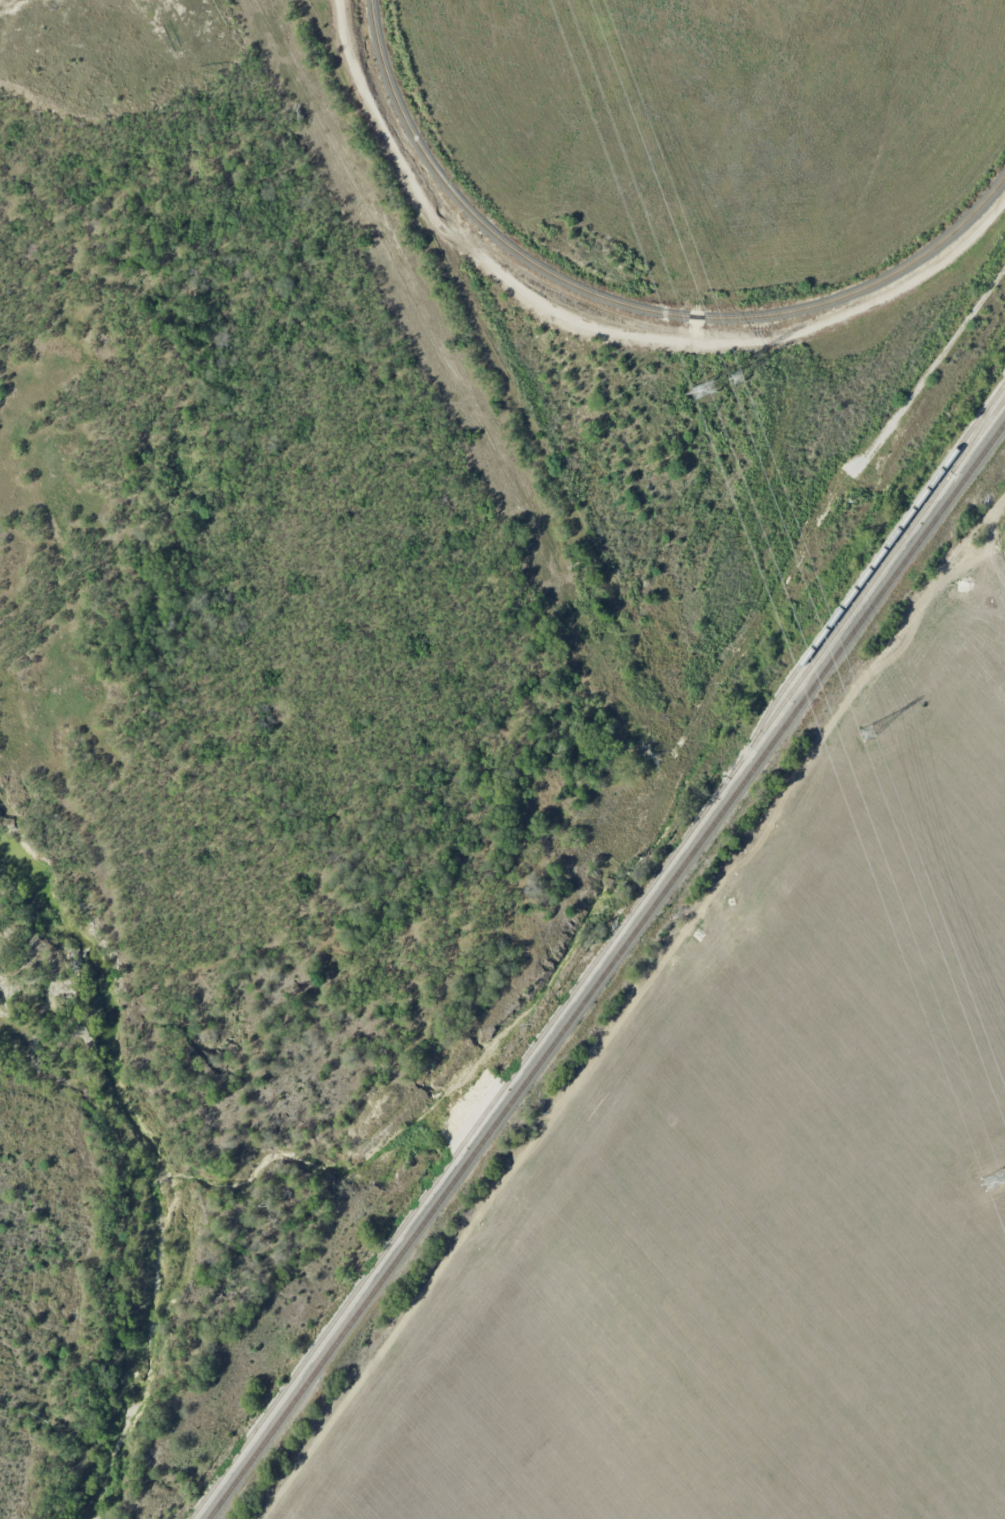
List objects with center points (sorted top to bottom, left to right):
railway: (627, 305)
power tower: (740, 378)
power tower: (710, 390)
railway: (863, 576)
power tower: (874, 734)
railway: (597, 958)
railway: (607, 972)
power tower: (1001, 1182)

